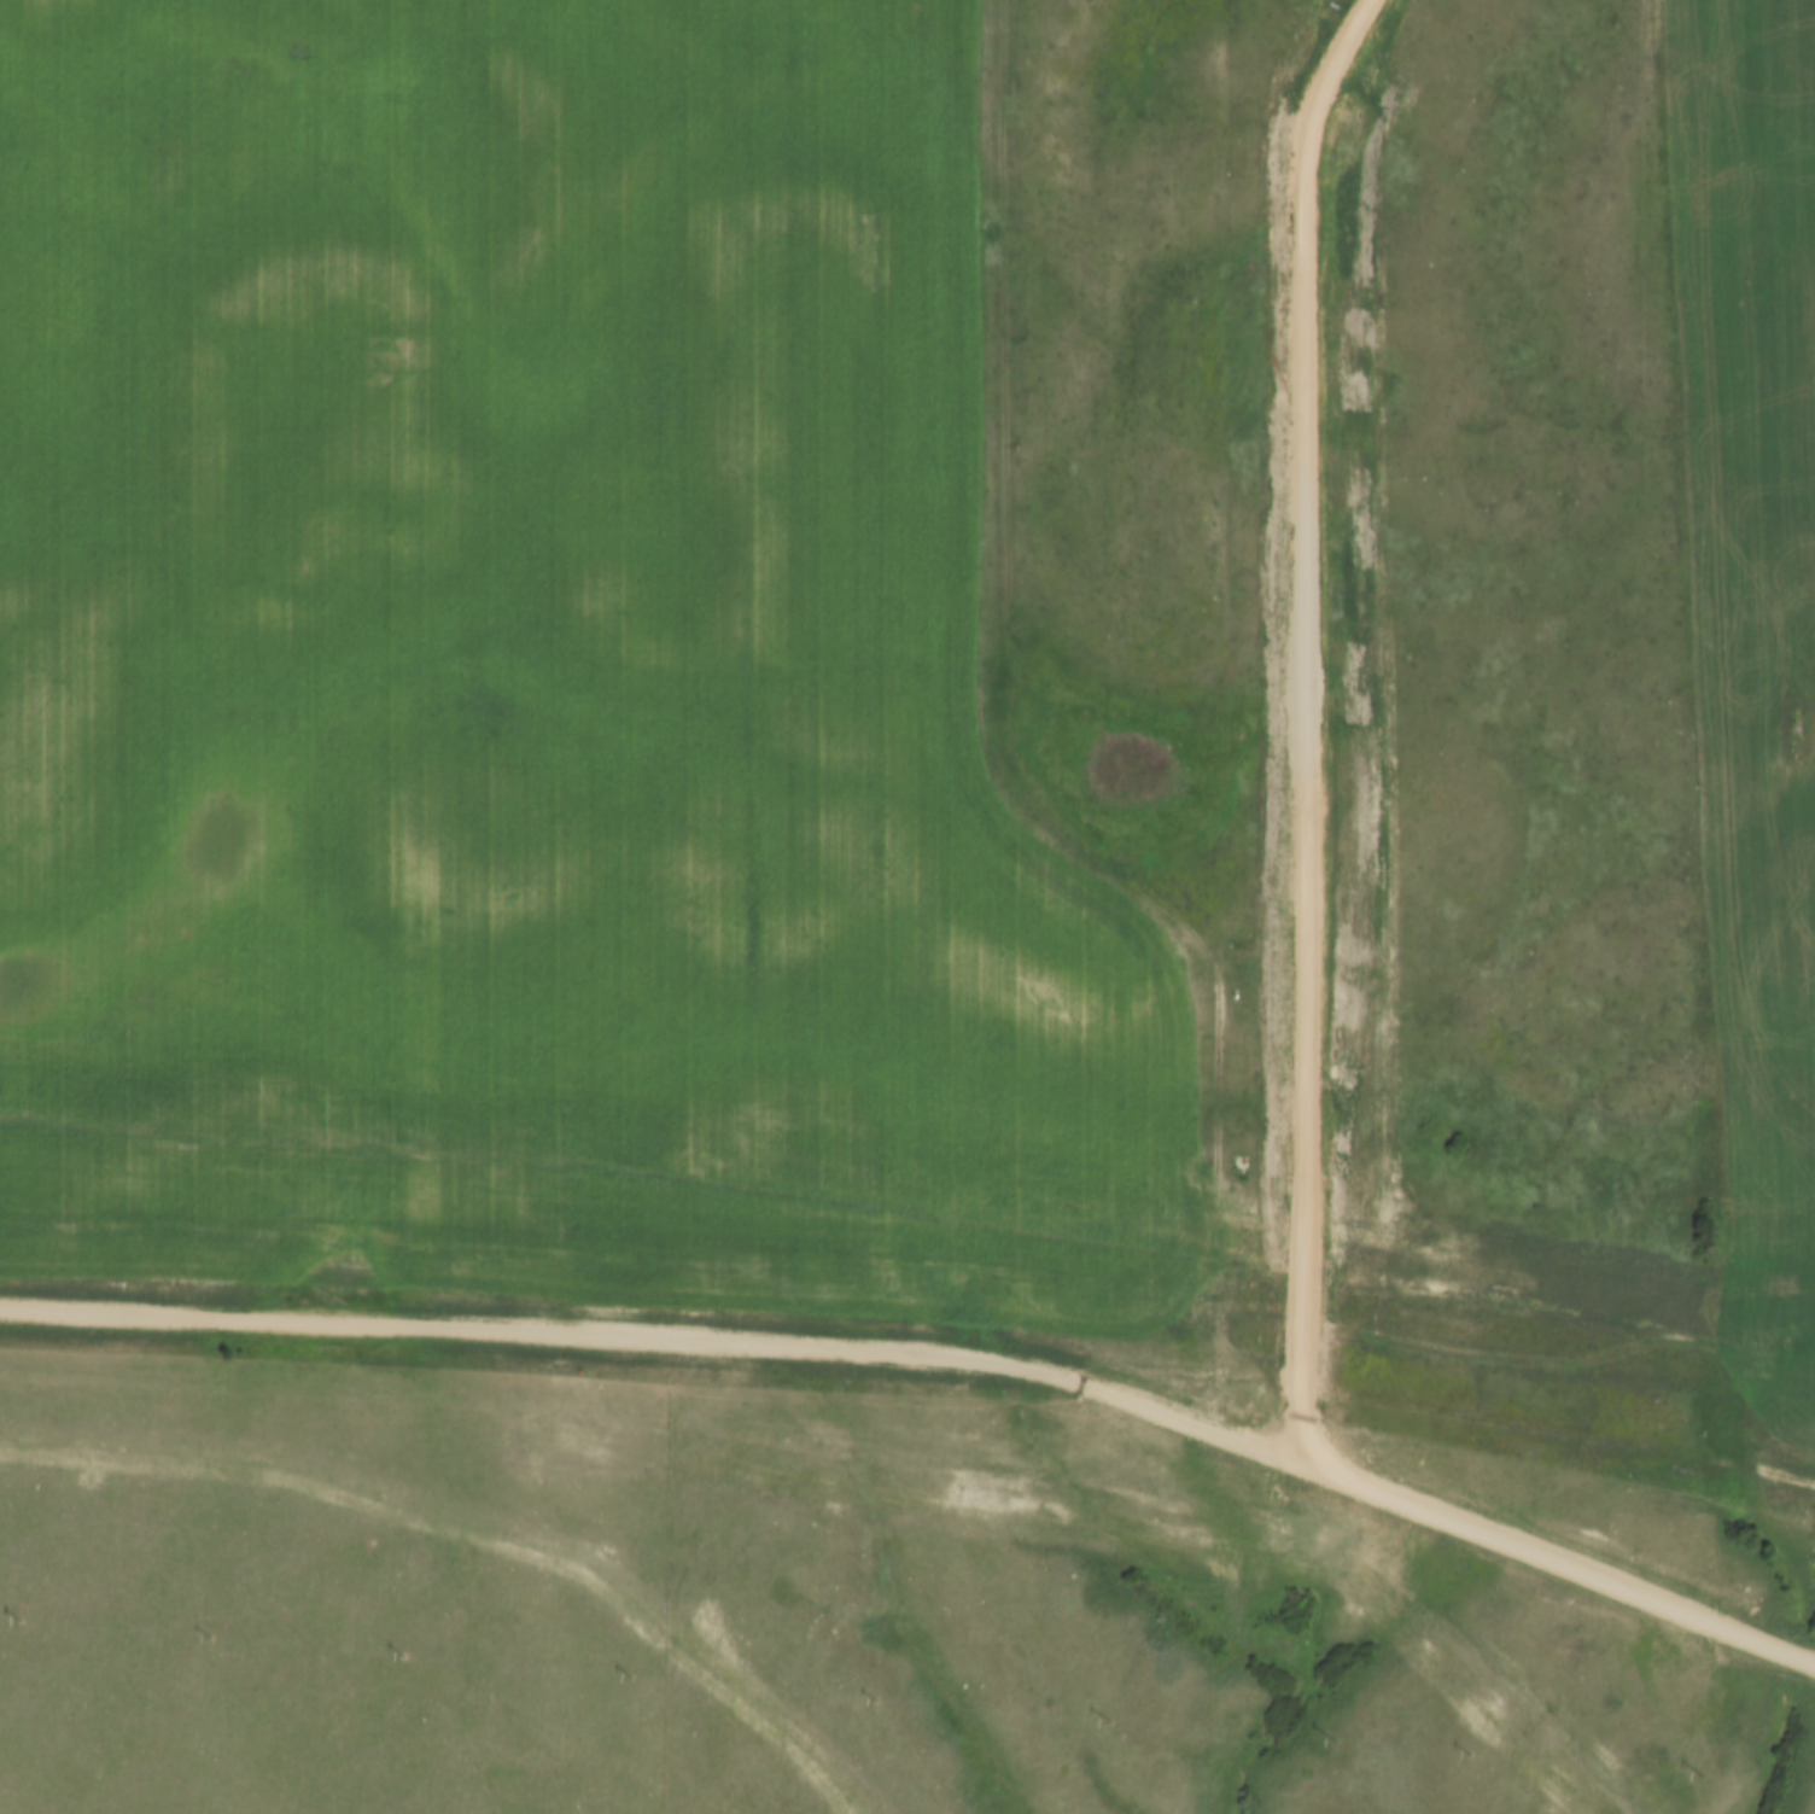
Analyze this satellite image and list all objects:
road: (932, 1360)
road: (1486, 1423)

